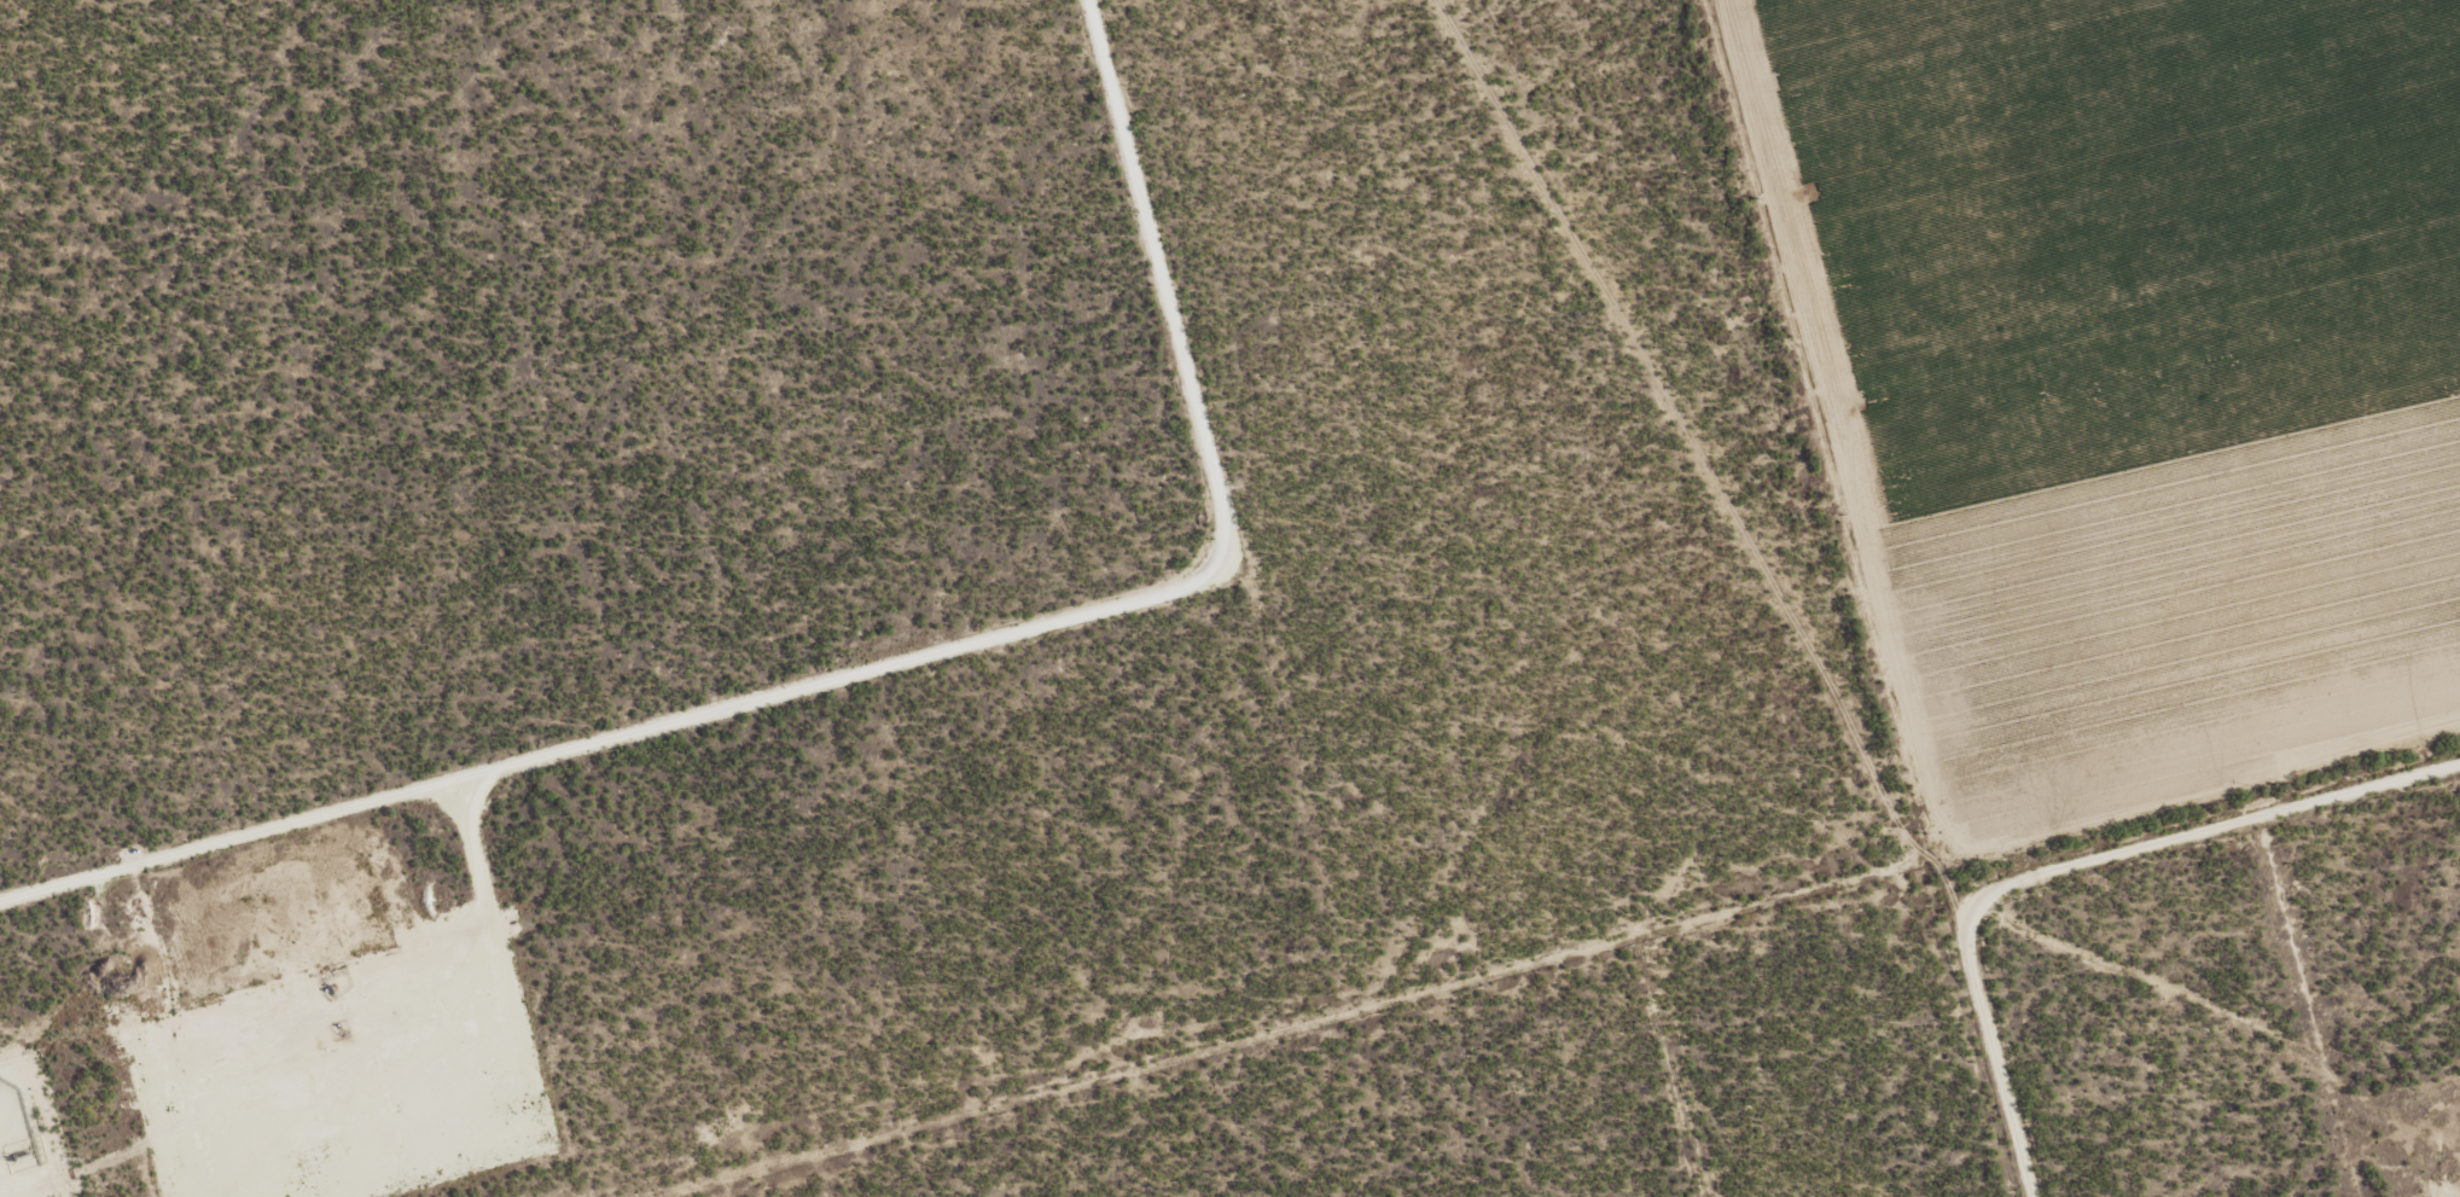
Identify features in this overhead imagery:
road: (2070, 867)

